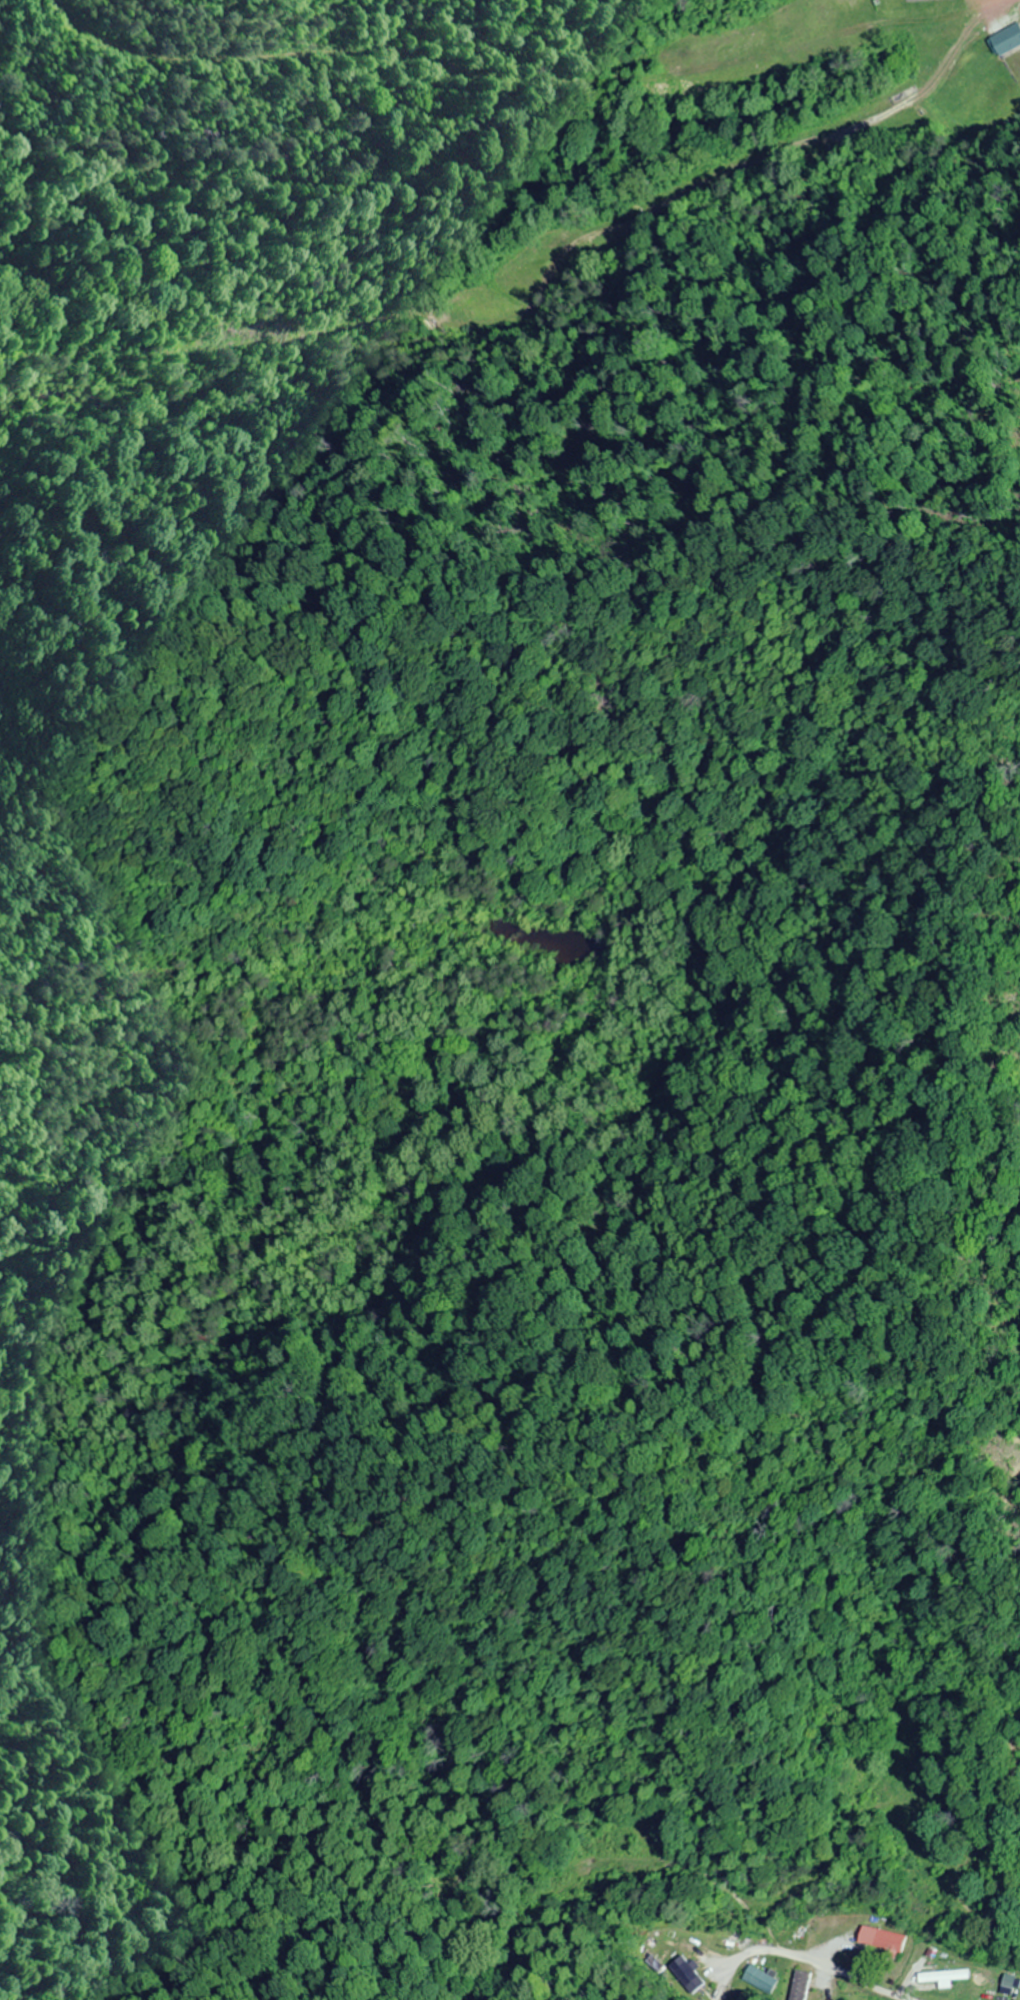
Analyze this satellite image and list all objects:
building: (1008, 40)
building: (882, 1941)
road: (834, 1972)
building: (942, 1978)

